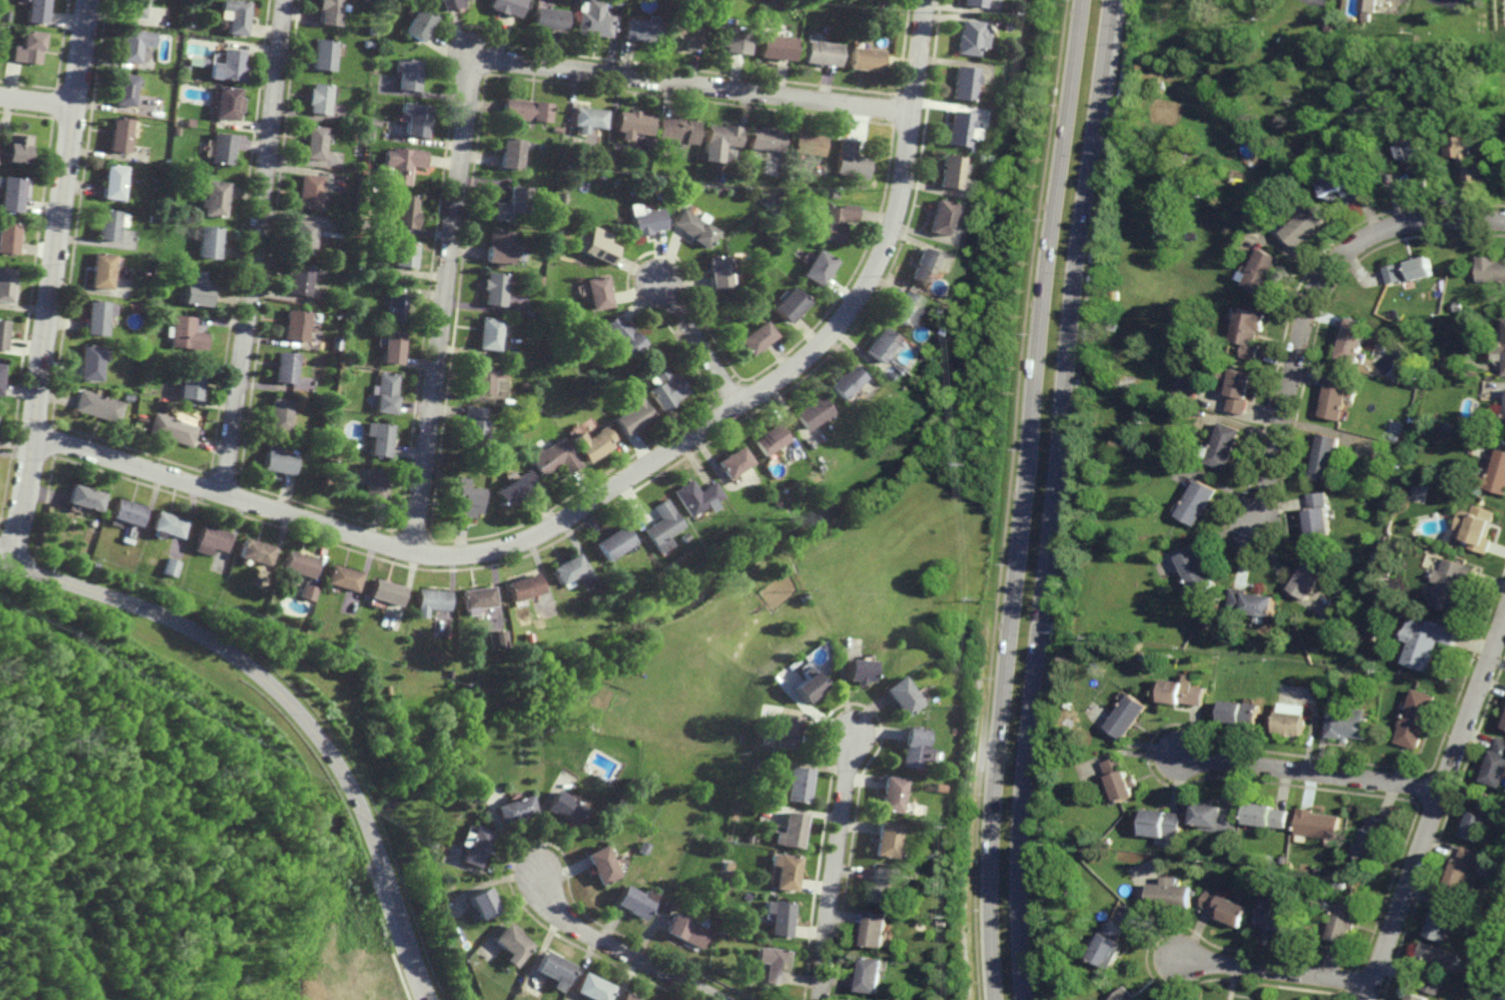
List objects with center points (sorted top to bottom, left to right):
building: (614, 2)
building: (847, 2)
building: (876, 3)
building: (970, 3)
building: (450, 4)
building: (506, 6)
building: (132, 8)
building: (1367, 8)
building: (34, 11)
building: (330, 11)
building: (234, 15)
building: (548, 19)
building: (593, 20)
building: (418, 23)
building: (1005, 25)
building: (1326, 26)
building: (639, 30)
building: (682, 36)
building: (965, 37)
building: (728, 39)
building: (1415, 39)
building: (131, 44)
building: (368, 44)
building: (27, 47)
building: (773, 47)
building: (1404, 52)
building: (818, 53)
building: (323, 54)
building: (862, 59)
building: (201, 62)
building: (226, 66)
building: (184, 69)
building: (407, 74)
building: (961, 83)
building: (122, 90)
road: (469, 92)
building: (318, 98)
building: (1378, 99)
building: (993, 100)
road: (38, 102)
building: (224, 103)
building: (525, 110)
building: (1353, 117)
building: (414, 119)
building: (586, 119)
building: (188, 122)
building: (374, 122)
building: (631, 124)
building: (956, 128)
building: (175, 131)
building: (675, 131)
building: (370, 134)
building: (116, 135)
building: (720, 136)
building: (763, 140)
building: (647, 141)
building: (313, 143)
building: (805, 144)
building: (1409, 147)
building: (16, 148)
building: (1460, 148)
building: (217, 149)
building: (509, 154)
building: (848, 160)
building: (401, 164)
building: (811, 171)
building: (947, 172)
building: (688, 176)
building: (1471, 177)
building: (789, 178)
building: (1416, 179)
building: (110, 182)
building: (674, 183)
building: (734, 184)
building: (761, 185)
building: (1347, 187)
building: (306, 192)
building: (11, 193)
building: (832, 195)
building: (560, 197)
building: (211, 200)
building: (767, 202)
building: (513, 203)
building: (405, 212)
building: (770, 215)
building: (938, 218)
building: (835, 221)
building: (646, 222)
building: (360, 224)
building: (105, 225)
building: (694, 228)
building: (1306, 230)
building: (357, 233)
building: (812, 234)
building: (301, 237)
building: (8, 238)
building: (327, 240)
building: (207, 243)
building: (598, 246)
road: (255, 247)
building: (499, 248)
building: (401, 256)
building: (591, 263)
building: (921, 267)
building: (816, 268)
building: (100, 271)
building: (1489, 272)
building: (716, 273)
building: (1406, 273)
building: (1265, 278)
building: (297, 280)
road: (52, 283)
building: (5, 285)
building: (194, 289)
building: (493, 290)
building: (597, 293)
road: (1311, 301)
building: (788, 304)
building: (395, 305)
building: (1457, 306)
building: (904, 307)
building: (336, 315)
building: (94, 318)
building: (293, 324)
building: (1110, 324)
building: (949, 325)
building: (3, 332)
building: (487, 332)
building: (1248, 332)
building: (185, 333)
building: (621, 335)
building: (754, 336)
building: (1353, 338)
building: (140, 340)
building: (882, 343)
building: (1500, 344)
building: (323, 345)
road: (696, 345)
building: (391, 346)
building: (137, 350)
building: (357, 360)
building: (89, 361)
building: (283, 366)
building: (903, 368)
building: (1, 374)
building: (896, 374)
building: (481, 377)
building: (844, 380)
building: (1189, 381)
building: (190, 383)
building: (1240, 383)
building: (667, 389)
building: (383, 392)
building: (1337, 395)
building: (127, 397)
building: (1176, 405)
building: (97, 406)
building: (810, 412)
building: (633, 413)
building: (278, 414)
building: (141, 419)
building: (1504, 421)
building: (472, 425)
building: (173, 428)
building: (871, 432)
building: (377, 437)
building: (767, 438)
building: (593, 442)
building: (1224, 444)
building: (315, 450)
building: (554, 456)
building: (1326, 456)
building: (277, 459)
building: (732, 461)
building: (481, 465)
building: (818, 467)
building: (1493, 472)
building: (373, 484)
road: (616, 485)
building: (515, 487)
building: (697, 495)
building: (84, 497)
building: (466, 498)
road: (1025, 499)
road: (1051, 499)
building: (1197, 500)
building: (1318, 514)
building: (126, 516)
building: (751, 517)
building: (167, 523)
building: (664, 526)
building: (1473, 527)
building: (826, 532)
building: (211, 537)
building: (614, 542)
building: (253, 551)
building: (1375, 555)
building: (297, 564)
building: (169, 566)
building: (568, 568)
building: (1365, 568)
building: (1196, 569)
building: (229, 572)
building: (1311, 575)
building: (341, 577)
building: (625, 582)
building: (1449, 583)
building: (523, 586)
building: (384, 591)
building: (307, 592)
building: (802, 597)
building: (475, 599)
building: (428, 601)
building: (1251, 603)
building: (208, 609)
building: (1381, 613)
building: (497, 638)
building: (1425, 642)
building: (854, 671)
building: (450, 673)
building: (802, 687)
building: (1183, 693)
building: (900, 696)
road: (290, 705)
building: (1067, 705)
building: (1241, 715)
building: (1126, 716)
building: (1414, 718)
building: (1293, 724)
building: (1504, 724)
building: (1348, 726)
building: (779, 732)
building: (913, 749)
building: (750, 765)
building: (1496, 765)
road: (1310, 773)
building: (1119, 780)
building: (942, 781)
building: (794, 787)
building: (891, 795)
building: (478, 805)
road: (1435, 808)
building: (564, 809)
building: (512, 811)
building: (1268, 816)
building: (1480, 818)
building: (1217, 819)
building: (1162, 824)
building: (1317, 825)
building: (788, 833)
building: (1050, 834)
building: (747, 840)
building: (1370, 840)
building: (886, 841)
building: (1107, 842)
building: (473, 849)
building: (645, 849)
building: (933, 858)
building: (1285, 861)
building: (602, 867)
building: (724, 867)
road: (835, 869)
building: (1461, 870)
building: (1318, 872)
building: (783, 873)
building: (941, 874)
building: (1341, 875)
building: (881, 887)
building: (1170, 896)
building: (636, 904)
building: (479, 907)
building: (1227, 910)
building: (777, 919)
building: (1443, 920)
building: (1279, 921)
building: (943, 923)
building: (1340, 923)
building: (874, 931)
building: (687, 933)
building: (511, 945)
building: (1109, 946)
road: (617, 950)
building: (1438, 960)
building: (770, 967)
road: (1276, 971)
building: (554, 973)
building: (869, 977)
building: (1431, 986)
building: (593, 990)
building: (1125, 996)
building: (626, 998)
building: (1413, 998)

